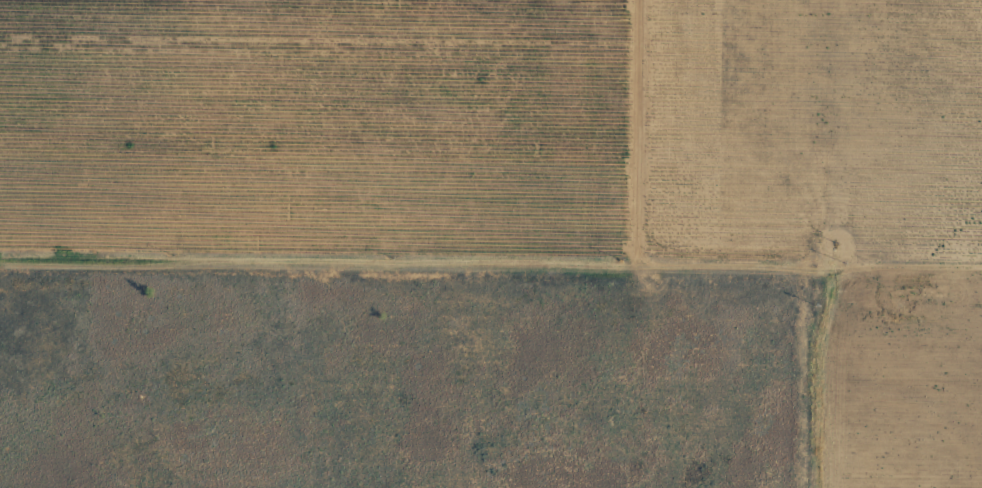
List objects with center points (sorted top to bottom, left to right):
road: (818, 244)
road: (490, 273)

